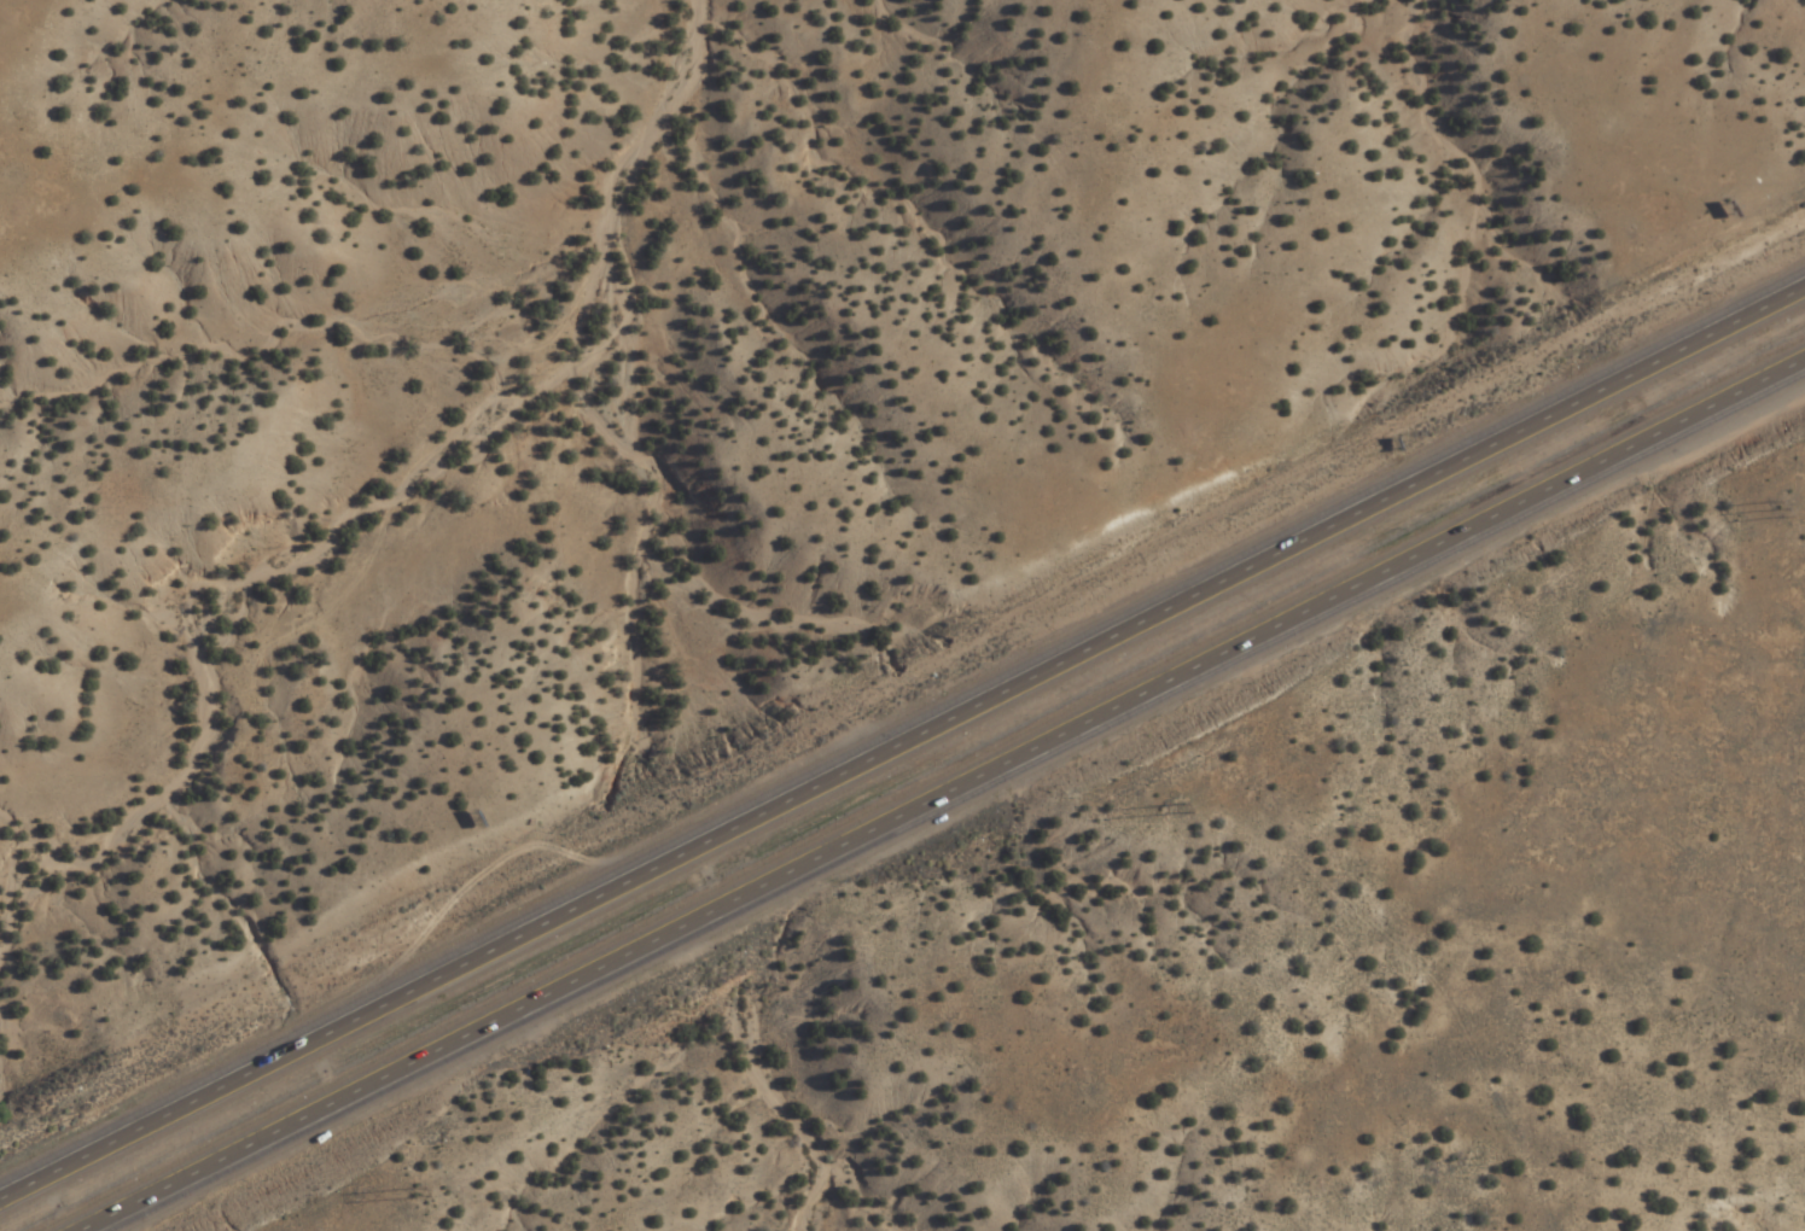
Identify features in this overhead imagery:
road: (902, 746)
road: (938, 789)

